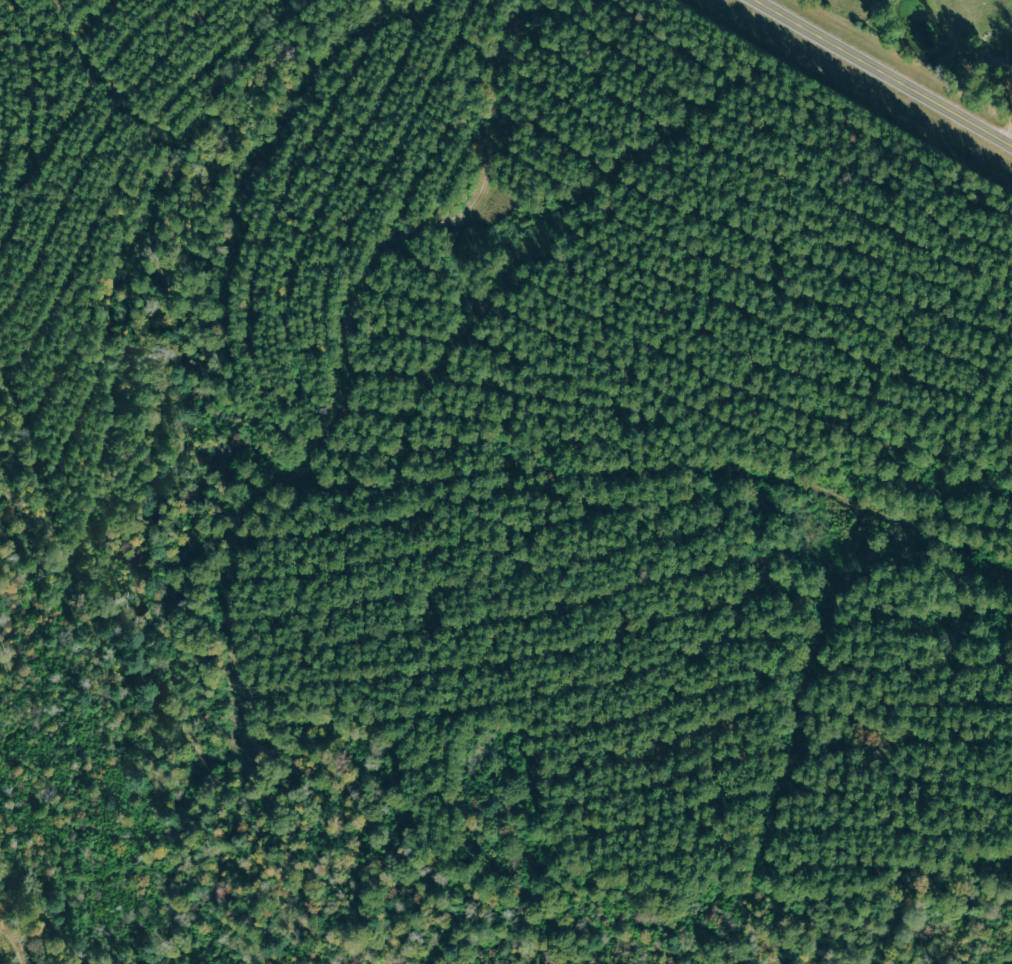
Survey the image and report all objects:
road: (879, 75)

